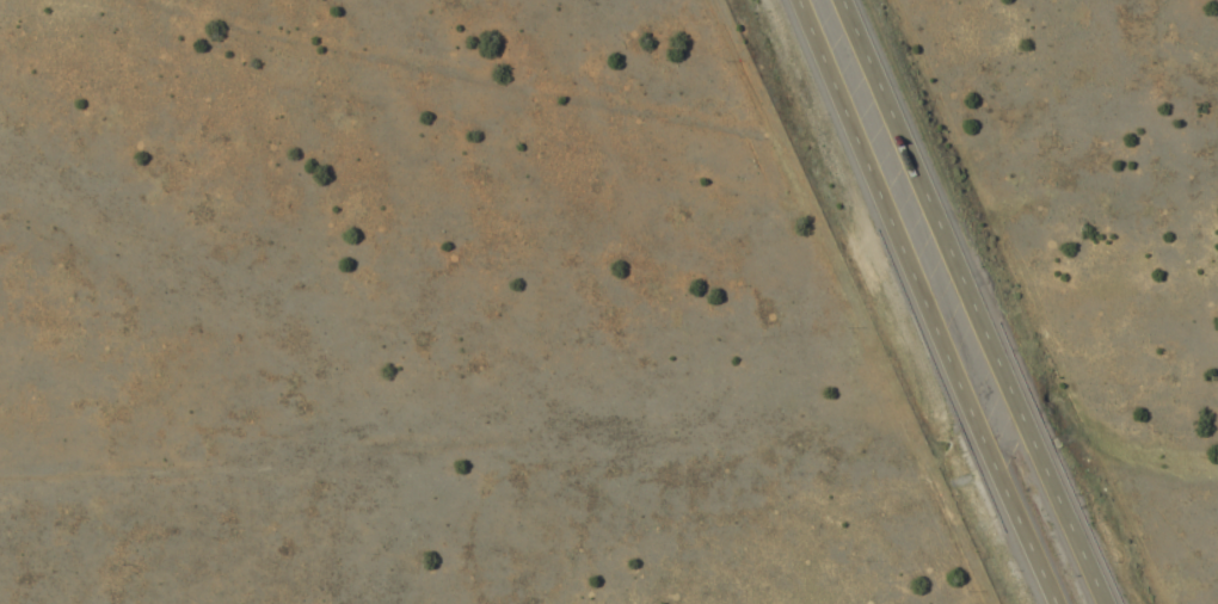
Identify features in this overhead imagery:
road: (925, 302)
road: (973, 302)

